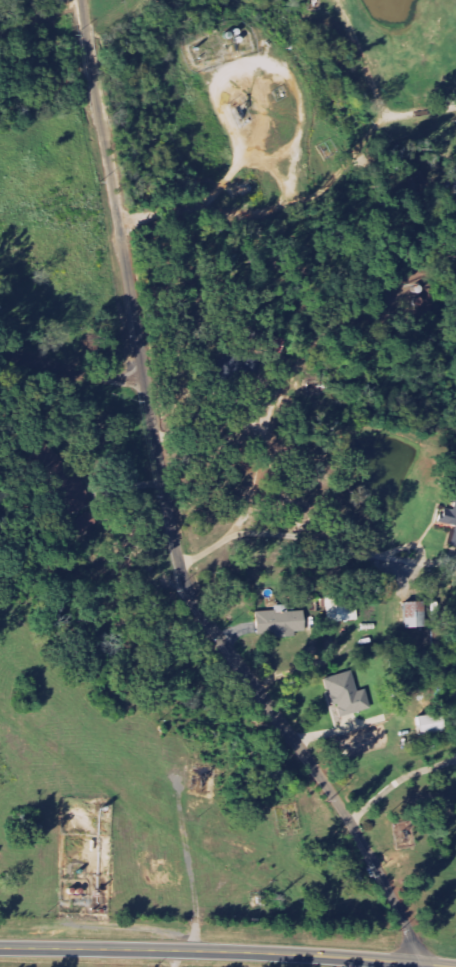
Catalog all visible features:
building: (277, 345)
road: (70, 370)
building: (63, 472)
road: (169, 513)
building: (449, 521)
building: (86, 523)
building: (341, 612)
building: (417, 615)
building: (281, 623)
building: (348, 695)
building: (433, 725)
road: (218, 952)

